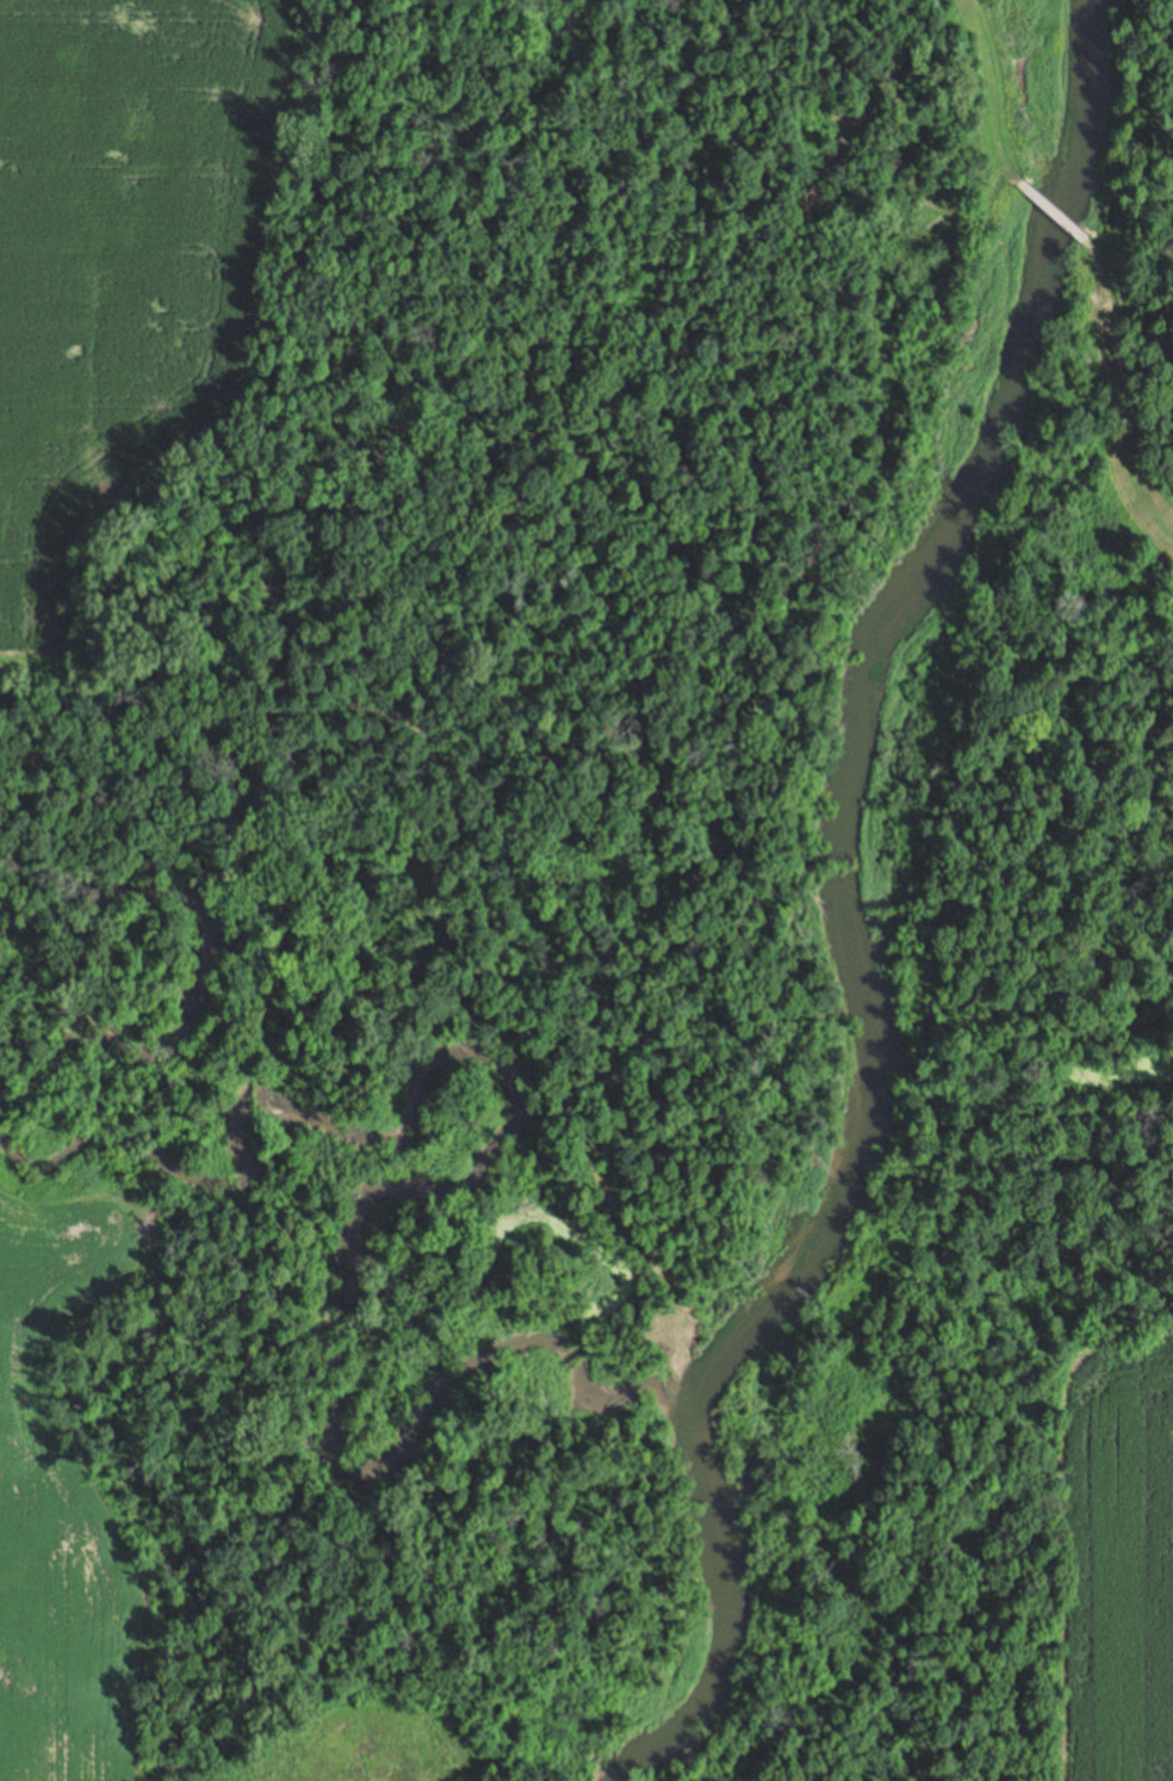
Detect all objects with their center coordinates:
river: (858, 897)

